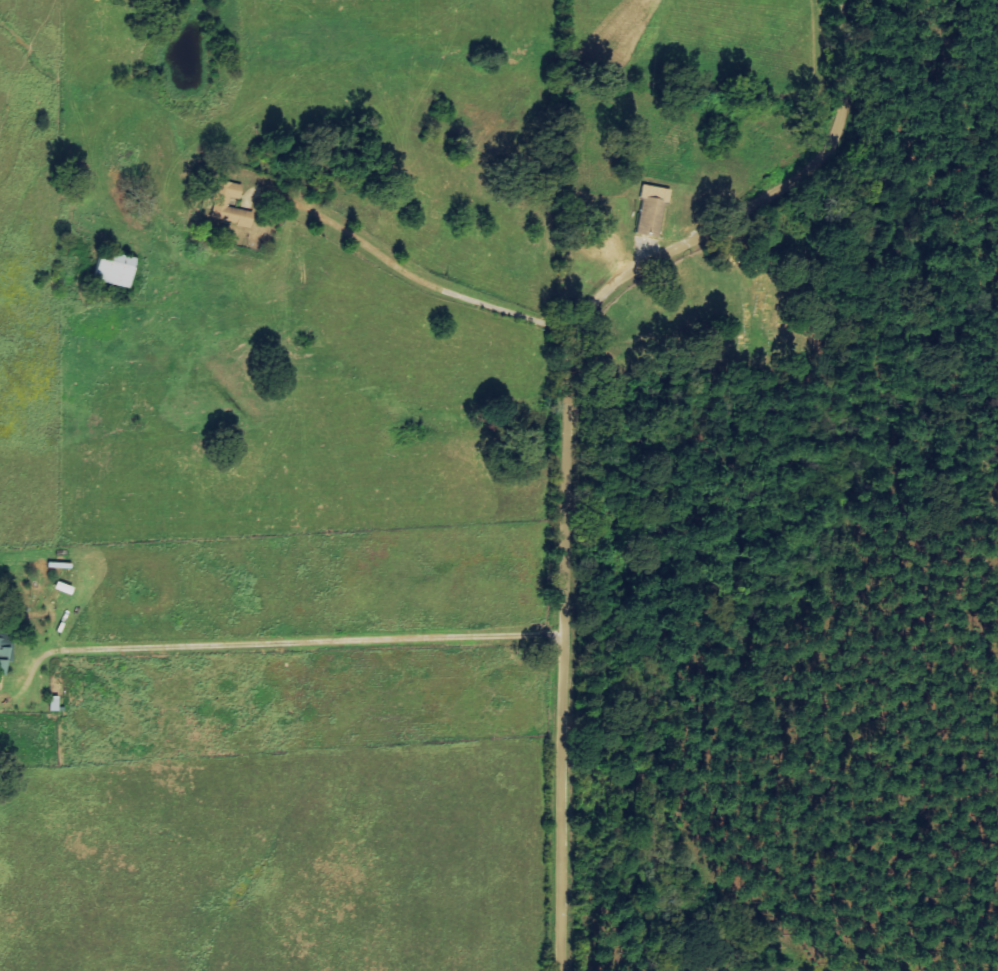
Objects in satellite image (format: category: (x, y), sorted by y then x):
building: (223, 204)
building: (650, 211)
building: (114, 271)
park: (728, 310)
road: (566, 415)
building: (2, 656)

